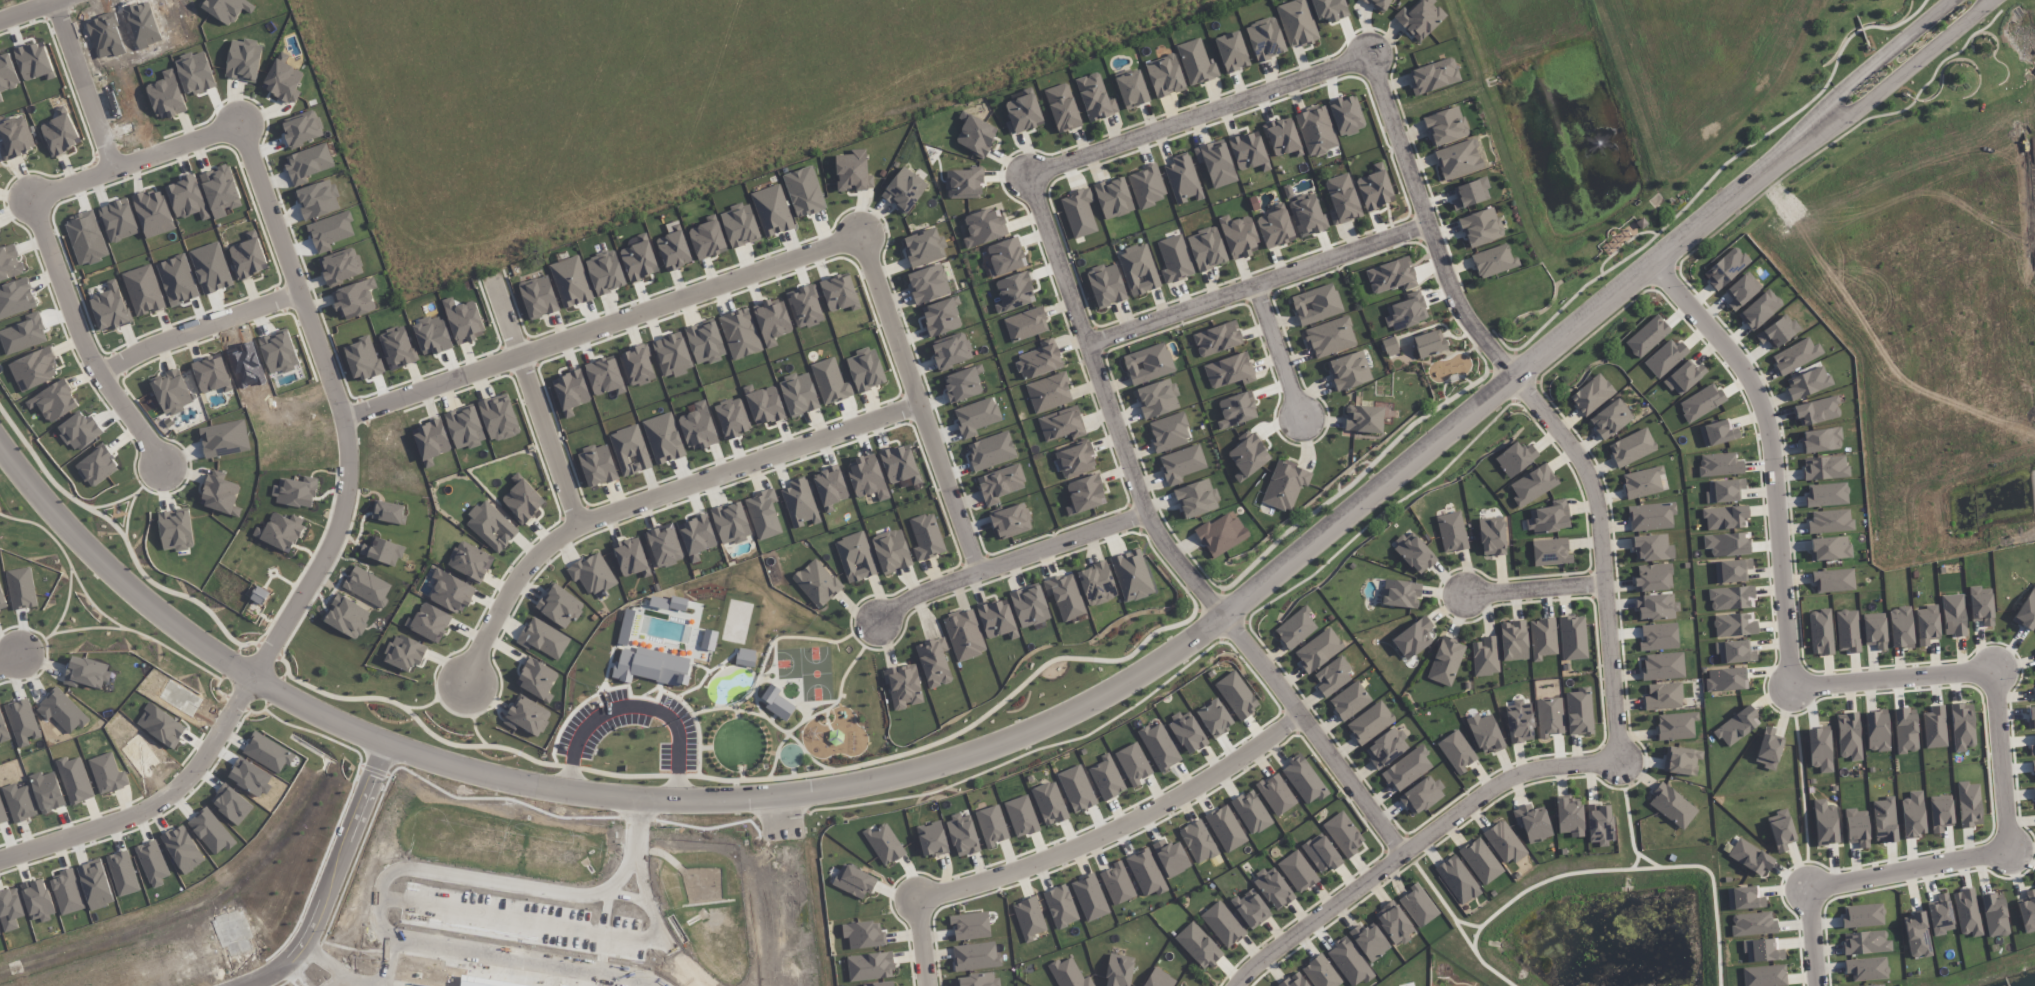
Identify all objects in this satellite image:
building: (1378, 4)
road: (15, 5)
building: (1330, 9)
building: (1420, 18)
building: (1297, 23)
building: (1265, 39)
building: (1232, 52)
building: (244, 60)
building: (1196, 62)
building: (1165, 76)
building: (1434, 76)
building: (283, 80)
road: (91, 84)
building: (1132, 89)
building: (167, 96)
building: (1095, 97)
building: (1063, 108)
building: (1023, 113)
road: (1840, 114)
building: (1347, 115)
building: (1445, 126)
building: (303, 129)
building: (1316, 130)
building: (60, 133)
building: (976, 134)
building: (1282, 136)
building: (16, 138)
building: (1248, 151)
building: (1458, 159)
road: (247, 162)
building: (1216, 163)
building: (852, 171)
building: (1183, 179)
building: (964, 184)
building: (1147, 186)
building: (1375, 188)
building: (904, 190)
building: (221, 191)
building: (803, 192)
building: (1471, 193)
building: (1114, 198)
building: (1342, 199)
building: (772, 210)
road: (1038, 210)
building: (153, 213)
building: (1079, 213)
building: (1306, 214)
building: (740, 225)
building: (984, 227)
building: (1275, 227)
building: (1481, 227)
building: (1239, 236)
building: (707, 240)
building: (924, 247)
building: (1207, 249)
building: (674, 250)
building: (248, 256)
building: (1006, 257)
building: (639, 258)
building: (1175, 259)
building: (1493, 261)
building: (9, 263)
building: (341, 266)
building: (1726, 268)
building: (1139, 269)
building: (605, 272)
building: (1391, 275)
building: (571, 282)
building: (928, 284)
building: (1106, 285)
building: (143, 290)
building: (1742, 290)
building: (1014, 292)
building: (839, 293)
road: (1258, 293)
building: (538, 297)
building: (15, 299)
building: (355, 299)
building: (1317, 304)
building: (804, 306)
building: (110, 307)
building: (1760, 310)
building: (1407, 311)
building: (942, 317)
building: (464, 320)
building: (772, 321)
building: (1026, 324)
road: (599, 326)
building: (1778, 332)
road: (195, 333)
building: (740, 333)
building: (1647, 336)
building: (1330, 337)
building: (1217, 339)
building: (705, 343)
building: (1430, 343)
building: (1390, 346)
building: (397, 348)
building: (951, 351)
building: (672, 355)
road: (1280, 355)
building: (1796, 356)
building: (1665, 358)
building: (1040, 360)
building: (1148, 363)
building: (637, 366)
building: (35, 369)
building: (866, 370)
building: (1230, 371)
building: (1349, 371)
building: (211, 374)
building: (604, 375)
building: (1684, 377)
building: (828, 382)
building: (1808, 383)
building: (963, 384)
building: (172, 392)
building: (571, 392)
building: (1049, 392)
building: (1592, 395)
building: (801, 396)
road: (534, 397)
building: (1157, 398)
building: (55, 401)
building: (1701, 402)
road: (918, 405)
building: (765, 406)
building: (1237, 410)
building: (1817, 411)
building: (976, 416)
building: (499, 418)
building: (733, 419)
building: (1364, 419)
building: (1610, 419)
building: (1062, 424)
building: (465, 428)
building: (699, 428)
building: (85, 431)
building: (1169, 432)
building: (1718, 433)
building: (663, 439)
building: (431, 440)
building: (1822, 440)
building: (1632, 447)
building: (991, 451)
building: (629, 453)
building: (1248, 457)
building: (1516, 458)
building: (1076, 460)
building: (1181, 464)
building: (97, 465)
building: (900, 465)
building: (1720, 465)
building: (596, 468)
building: (1825, 468)
building: (868, 480)
building: (1642, 482)
building: (1000, 484)
building: (1285, 485)
building: (1533, 485)
building: (829, 489)
building: (1724, 491)
building: (296, 492)
building: (1085, 494)
building: (1826, 494)
building: (221, 496)
road: (652, 496)
building: (1197, 499)
building: (521, 501)
building: (799, 504)
building: (389, 512)
building: (763, 515)
building: (1651, 516)
building: (1725, 517)
building: (1549, 518)
building: (1011, 521)
building: (1830, 521)
building: (731, 526)
building: (489, 529)
building: (176, 530)
building: (281, 531)
building: (1452, 532)
building: (1221, 534)
building: (696, 537)
building: (926, 537)
building: (1492, 537)
building: (1727, 544)
building: (664, 547)
building: (1651, 547)
building: (1829, 548)
building: (383, 551)
building: (891, 551)
building: (1550, 552)
building: (1414, 553)
building: (631, 557)
building: (855, 557)
building: (469, 562)
road: (1007, 562)
building: (1732, 570)
road: (114, 573)
building: (1132, 575)
building: (590, 576)
building: (1653, 577)
building: (1833, 581)
building: (817, 583)
building: (1097, 584)
building: (368, 586)
road: (1535, 589)
building: (451, 592)
building: (1401, 594)
building: (260, 595)
building: (1065, 596)
building: (1731, 598)
building: (676, 603)
building: (1981, 605)
building: (1030, 606)
building: (558, 607)
building: (1656, 607)
building: (2026, 611)
building: (1953, 615)
building: (347, 617)
building: (996, 619)
building: (429, 622)
building: (1735, 624)
building: (1927, 625)
building: (1901, 627)
building: (1296, 628)
building: (1848, 630)
building: (1821, 632)
building: (1875, 633)
building: (964, 635)
building: (1572, 637)
building: (1658, 637)
building: (1413, 638)
building: (1543, 638)
building: (1514, 640)
building: (542, 641)
building: (1319, 650)
building: (1735, 652)
building: (404, 653)
building: (1485, 656)
building: (745, 660)
road: (12, 661)
building: (1446, 661)
building: (934, 662)
building: (652, 665)
building: (1663, 666)
park: (807, 670)
building: (86, 672)
building: (1332, 676)
road: (1900, 676)
road: (1119, 679)
building: (1726, 679)
building: (535, 681)
fountain: (731, 685)
building: (903, 686)
park: (718, 688)
building: (2034, 693)
building: (1236, 695)
building: (1663, 696)
building: (1350, 701)
building: (776, 702)
road: (635, 703)
building: (1579, 712)
building: (1549, 717)
building: (2031, 717)
building: (1215, 718)
building: (524, 720)
building: (1370, 722)
building: (1520, 722)
building: (1676, 726)
building: (1737, 726)
building: (1934, 727)
building: (1962, 727)
building: (1876, 731)
building: (1905, 731)
building: (1187, 733)
building: (1485, 734)
building: (1849, 736)
building: (1159, 746)
building: (1386, 748)
building: (1768, 749)
building: (1820, 749)
building: (2032, 749)
building: (1457, 752)
building: (1681, 760)
building: (1133, 764)
road: (1599, 764)
building: (2033, 766)
building: (1407, 768)
building: (107, 774)
building: (1107, 778)
building: (1304, 779)
building: (74, 780)
building: (1077, 789)
building: (2034, 793)
building: (1276, 794)
building: (1421, 795)
road: (150, 800)
building: (1050, 803)
building: (1969, 804)
building: (1672, 806)
building: (1251, 812)
building: (1913, 815)
building: (1940, 815)
building: (1021, 816)
road: (638, 817)
building: (1569, 817)
building: (1885, 820)
building: (1533, 822)
building: (1825, 823)
building: (1600, 824)
building: (992, 826)
building: (1856, 826)
building: (1226, 828)
building: (1782, 830)
building: (1344, 834)
building: (963, 836)
building: (932, 839)
building: (1198, 842)
building: (1504, 842)
building: (884, 844)
road: (1077, 846)
building: (1321, 854)
building: (1171, 857)
building: (1751, 857)
building: (1480, 861)
road: (627, 863)
road: (644, 866)
building: (1297, 871)
building: (1146, 873)
road: (331, 880)
building: (1458, 880)
building: (855, 881)
road: (633, 883)
building: (1117, 884)
road: (802, 888)
building: (1273, 888)
building: (27, 889)
road: (419, 889)
road: (785, 889)
building: (67, 893)
building: (1090, 897)
building: (1745, 898)
road: (611, 901)
building: (1418, 905)
building: (1060, 906)
building: (1251, 908)
building: (1967, 912)
building: (2027, 912)
building: (1862, 915)
building: (1941, 915)
building: (1994, 916)
park: (1604, 917)
building: (1029, 918)
building: (1393, 922)
building: (1223, 924)
building: (1753, 924)
building: (970, 926)
building: (864, 934)
building: (0, 935)
building: (1917, 935)
building: (1369, 941)
building: (1866, 942)
building: (1198, 945)
road: (512, 946)
building: (1762, 950)
road: (391, 956)
building: (976, 956)
building: (1349, 962)
building: (870, 966)
road: (307, 967)
building: (1866, 968)
road: (350, 970)
building: (1119, 971)
building: (1321, 973)
building: (1068, 974)
building: (1764, 976)
building: (1159, 979)
building: (479, 980)
building: (978, 980)
building: (1294, 980)
building: (565, 983)
building: (1871, 985)

